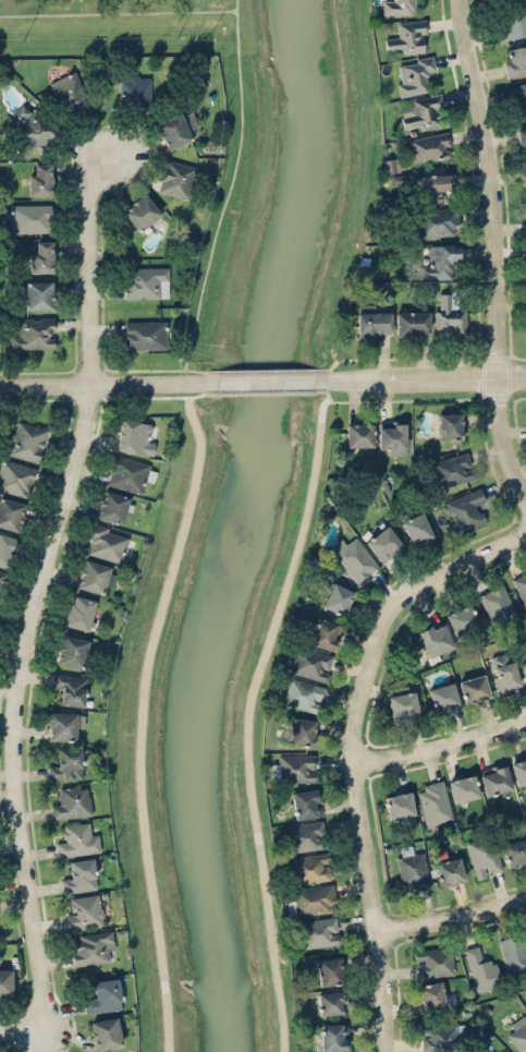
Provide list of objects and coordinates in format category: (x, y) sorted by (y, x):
building: (399, 7)
road: (118, 12)
building: (513, 23)
building: (406, 37)
building: (515, 59)
building: (414, 74)
building: (134, 90)
building: (70, 94)
building: (518, 97)
building: (423, 112)
building: (34, 129)
building: (178, 129)
building: (522, 138)
building: (429, 146)
building: (390, 164)
building: (525, 172)
building: (176, 178)
building: (39, 179)
building: (397, 179)
building: (433, 186)
road: (228, 193)
building: (143, 213)
building: (30, 217)
building: (438, 221)
road: (502, 241)
building: (41, 255)
building: (438, 261)
building: (147, 282)
building: (39, 294)
building: (449, 314)
building: (374, 323)
building: (412, 323)
building: (33, 332)
building: (146, 334)
road: (427, 378)
road: (266, 382)
road: (101, 384)
building: (450, 425)
building: (359, 434)
building: (136, 436)
building: (392, 437)
building: (25, 440)
building: (454, 469)
building: (130, 472)
building: (15, 476)
building: (112, 506)
building: (464, 511)
building: (11, 512)
river: (243, 524)
building: (416, 528)
building: (107, 542)
building: (383, 543)
building: (5, 548)
building: (354, 556)
building: (95, 577)
road: (40, 579)
building: (2, 580)
building: (522, 588)
building: (338, 597)
building: (498, 606)
building: (78, 612)
building: (478, 614)
building: (462, 618)
building: (323, 632)
building: (436, 640)
building: (72, 650)
building: (310, 662)
building: (524, 669)
building: (504, 673)
building: (70, 687)
building: (474, 688)
building: (303, 693)
building: (443, 697)
building: (403, 706)
building: (64, 726)
building: (301, 730)
road: (442, 745)
road: (357, 751)
building: (65, 764)
building: (293, 766)
building: (518, 771)
building: (496, 778)
building: (463, 787)
building: (435, 801)
building: (71, 802)
building: (307, 802)
building: (400, 807)
building: (525, 813)
building: (304, 835)
building: (77, 839)
building: (515, 851)
building: (484, 856)
building: (310, 867)
building: (447, 868)
building: (412, 869)
building: (79, 875)
building: (311, 899)
building: (85, 911)
road: (453, 915)
building: (319, 931)
building: (93, 947)
building: (514, 952)
building: (433, 962)
building: (481, 969)
building: (329, 970)
building: (5, 981)
building: (431, 994)
building: (105, 995)
building: (332, 1002)
road: (22, 1029)
building: (105, 1032)
building: (517, 1033)
building: (332, 1036)
building: (441, 1036)
building: (503, 1051)

